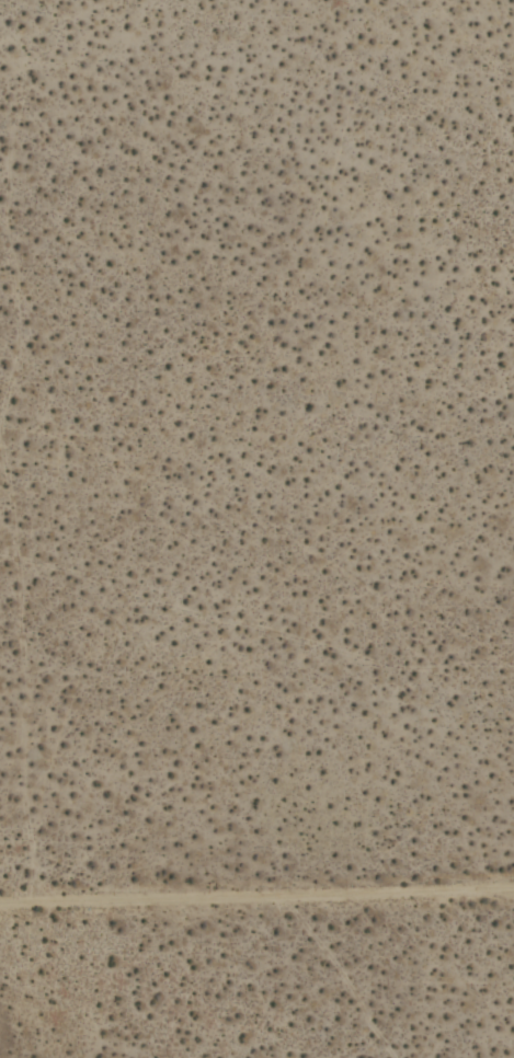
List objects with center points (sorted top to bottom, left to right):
road: (256, 896)

